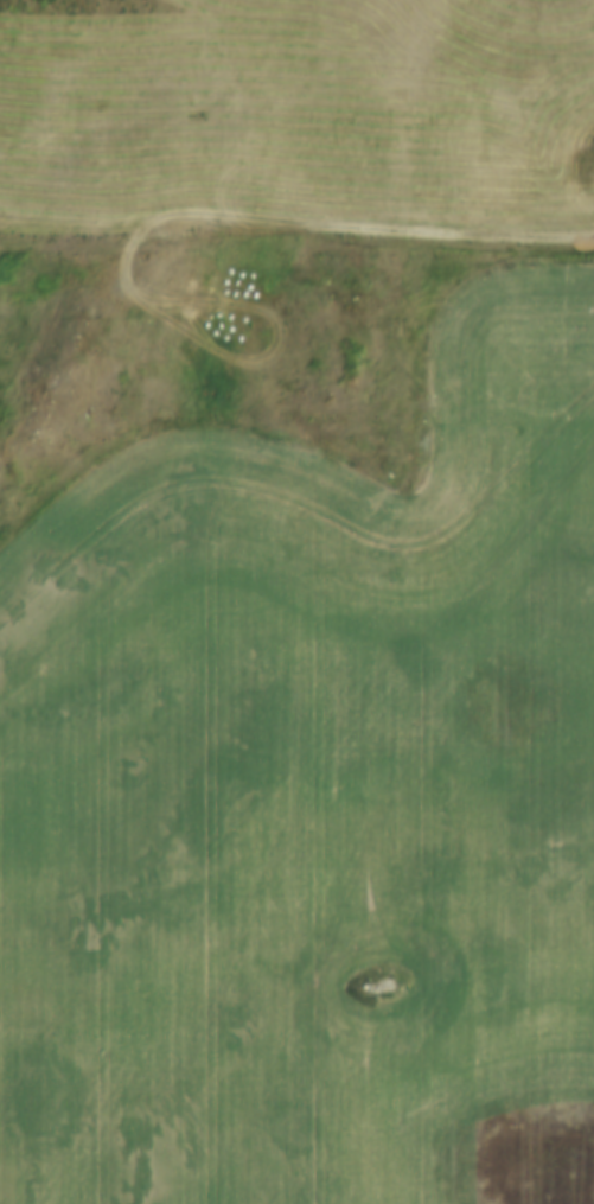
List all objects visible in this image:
quarry: (553, 4)
road: (296, 230)

